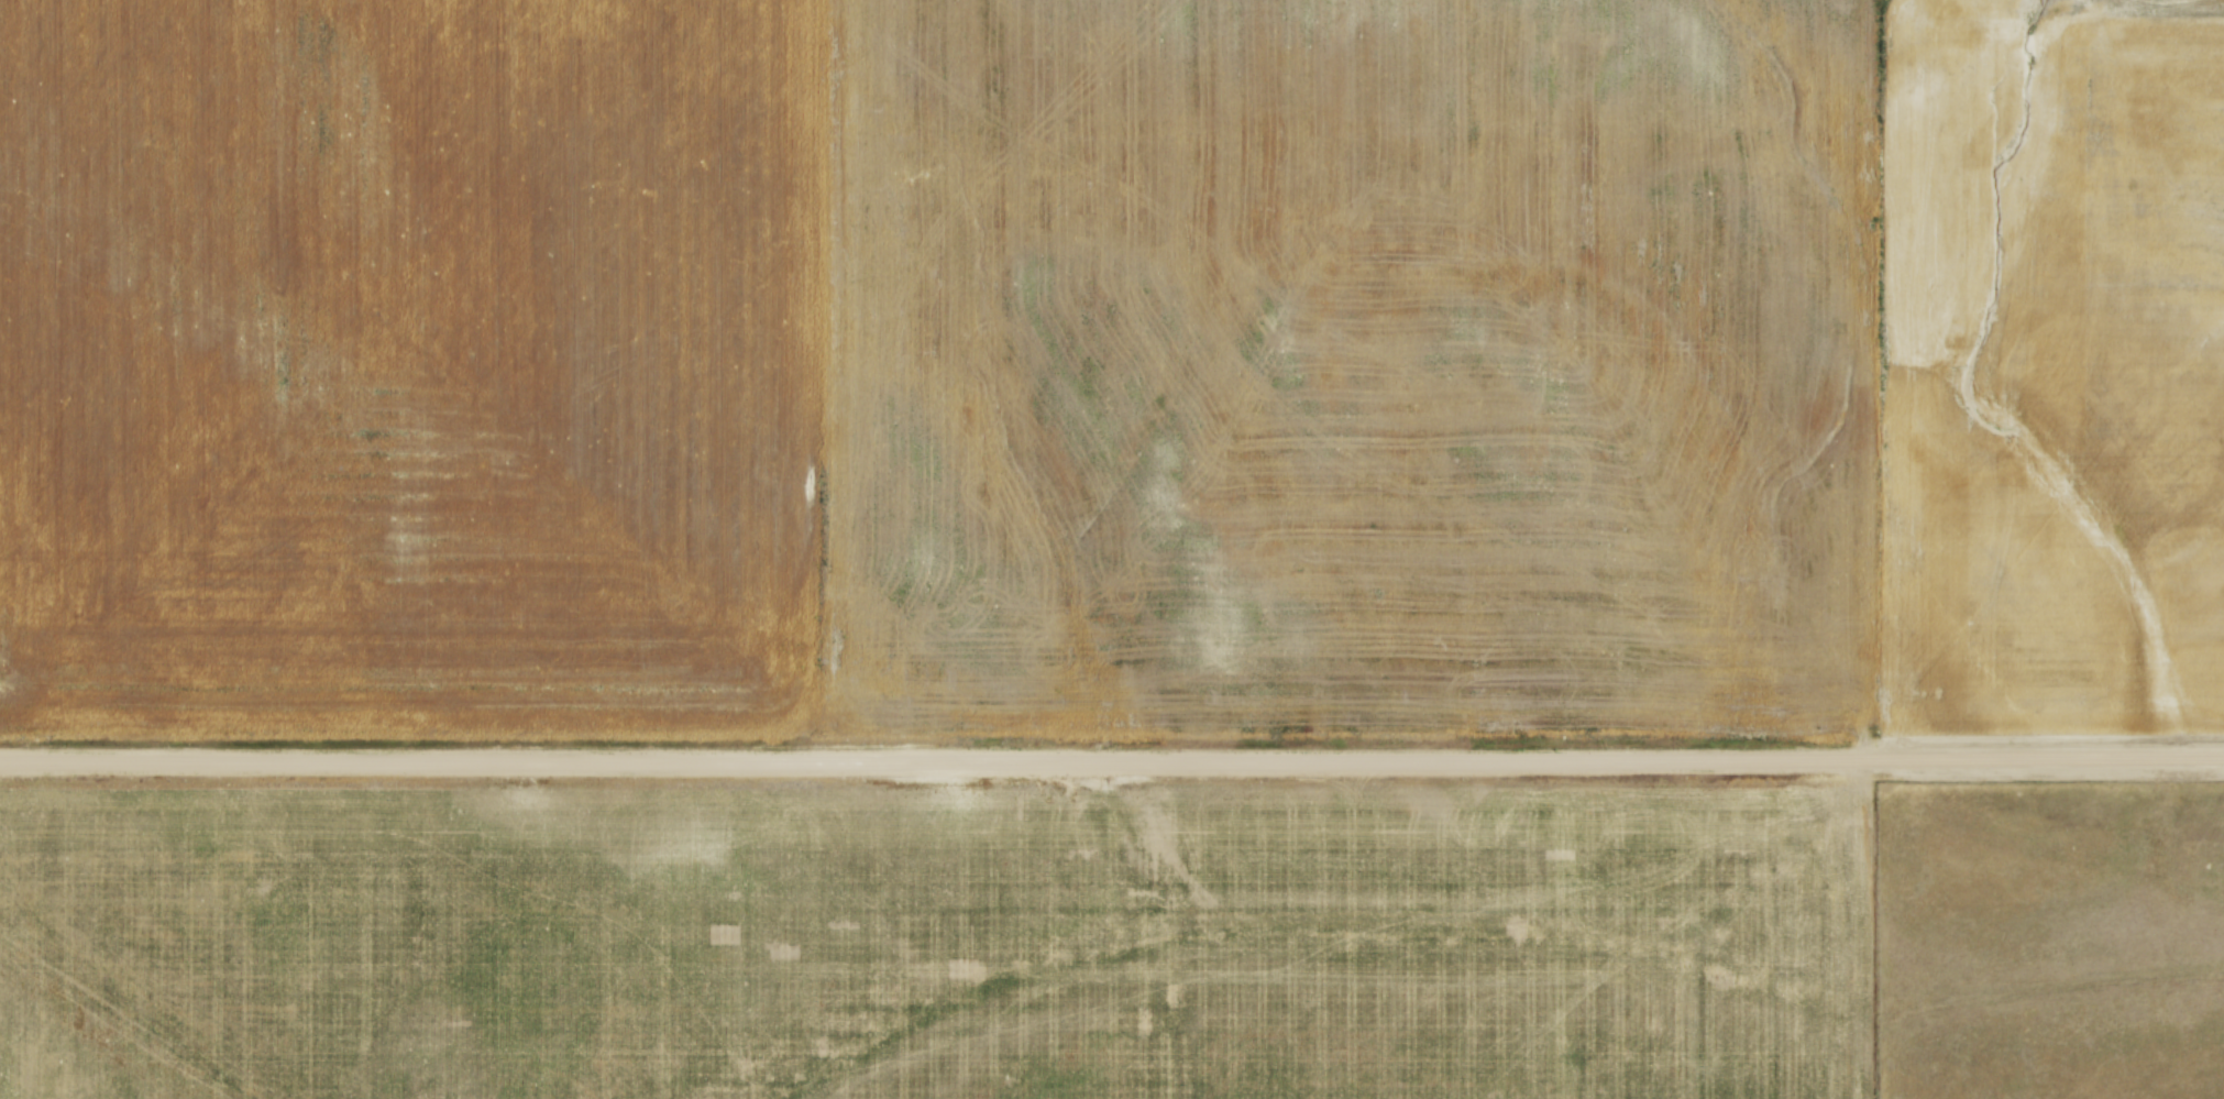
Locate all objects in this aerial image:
crop: (1115, 366)
road: (1112, 765)
crop: (929, 942)

